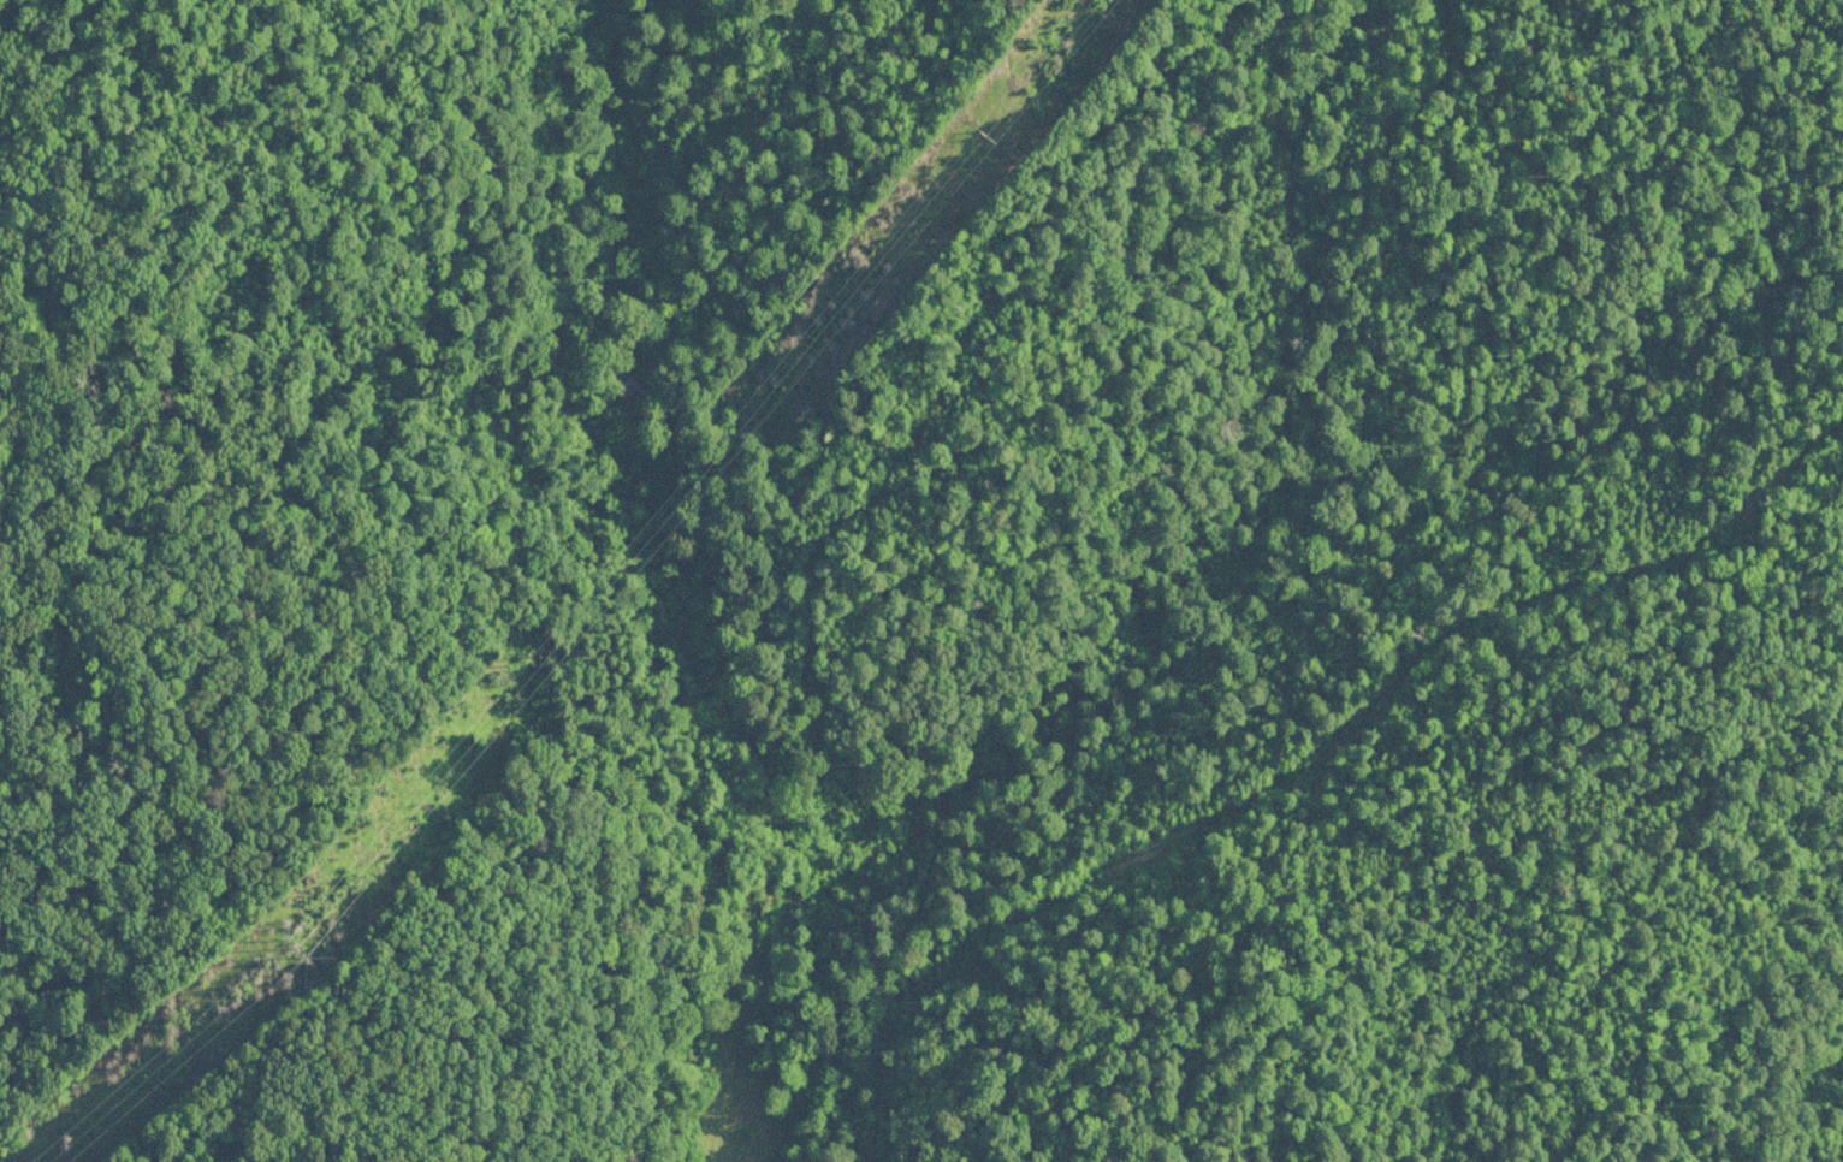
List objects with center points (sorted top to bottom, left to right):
power tower: (973, 134)
power tower: (283, 948)
road: (829, 1041)

